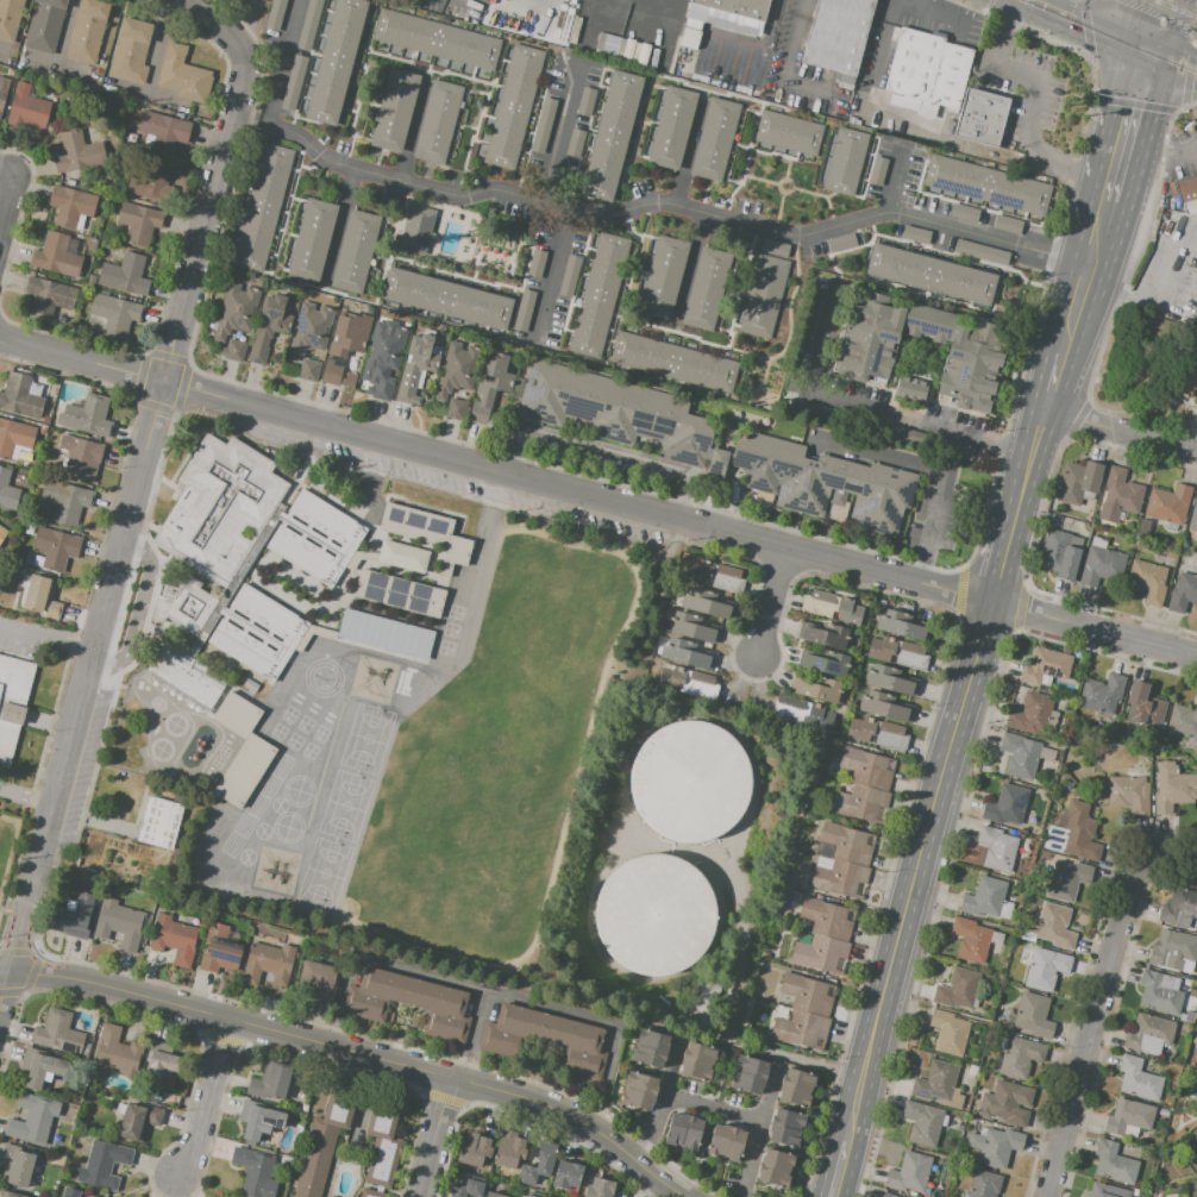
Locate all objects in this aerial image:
railway: (1182, 6)
building: (738, 7)
railway: (1168, 11)
building: (276, 14)
building: (10, 18)
road: (1079, 21)
road: (1138, 21)
building: (311, 24)
traffic signals: (1084, 24)
building: (45, 25)
road: (219, 30)
building: (87, 31)
building: (691, 31)
road: (1177, 31)
building: (836, 36)
road: (878, 38)
building: (434, 39)
road: (757, 45)
building: (628, 49)
building: (130, 50)
building: (637, 51)
road: (1151, 52)
building: (336, 61)
road: (1183, 67)
building: (928, 68)
road: (784, 69)
building: (183, 75)
building: (295, 83)
building: (2, 88)
road: (1038, 94)
building: (587, 102)
road: (1155, 104)
building: (513, 107)
building: (27, 109)
building: (395, 111)
traffic signals: (1153, 113)
building: (980, 118)
road: (1111, 119)
building: (438, 123)
road: (250, 124)
building: (544, 124)
building: (671, 127)
building: (164, 130)
building: (788, 132)
road: (557, 133)
building: (610, 136)
building: (715, 136)
road: (1124, 140)
building: (575, 143)
road: (1193, 146)
road: (1170, 150)
building: (77, 152)
road: (685, 156)
building: (842, 162)
building: (877, 171)
road: (8, 173)
road: (1133, 174)
road: (892, 178)
building: (150, 184)
building: (988, 184)
building: (1187, 190)
building: (70, 206)
building: (263, 206)
road: (8, 208)
building: (964, 213)
road: (600, 215)
building: (138, 221)
building: (1007, 225)
building: (415, 230)
building: (916, 234)
building: (311, 239)
building: (840, 243)
building: (775, 249)
road: (1109, 250)
building: (356, 251)
building: (982, 251)
building: (55, 256)
building: (537, 262)
road: (689, 265)
building: (457, 268)
road: (1071, 269)
building: (928, 271)
building: (125, 274)
road: (552, 274)
building: (568, 276)
building: (664, 277)
building: (706, 288)
building: (602, 290)
building: (49, 296)
building: (764, 296)
building: (445, 299)
road: (832, 305)
building: (524, 309)
building: (112, 318)
building: (252, 318)
building: (811, 322)
building: (309, 330)
building: (351, 334)
building: (233, 350)
road: (1077, 353)
building: (383, 356)
road: (819, 357)
building: (863, 359)
building: (673, 363)
building: (416, 366)
building: (456, 369)
building: (309, 371)
building: (331, 374)
road: (1044, 375)
building: (1187, 376)
building: (349, 383)
building: (490, 387)
building: (909, 390)
building: (20, 399)
building: (1196, 403)
building: (456, 409)
building: (615, 411)
building: (817, 412)
building: (90, 416)
building: (45, 419)
road: (917, 419)
road: (1115, 426)
building: (43, 430)
building: (14, 437)
road: (1028, 440)
building: (929, 441)
building: (81, 457)
building: (820, 481)
building: (317, 482)
building: (1077, 482)
building: (7, 491)
building: (1118, 495)
road: (597, 499)
building: (67, 501)
building: (1168, 503)
building: (220, 507)
road: (1026, 507)
building: (1193, 518)
building: (1143, 525)
road: (125, 533)
building: (427, 533)
road: (928, 533)
building: (2, 534)
building: (317, 538)
road: (1007, 539)
building: (1098, 541)
building: (1168, 544)
building: (56, 547)
building: (402, 556)
building: (1059, 556)
building: (1101, 566)
building: (717, 576)
building: (1147, 581)
building: (399, 594)
building: (1183, 594)
building: (40, 596)
road: (776, 602)
building: (708, 603)
building: (183, 606)
building: (832, 607)
road: (139, 614)
building: (902, 625)
building: (694, 626)
building: (257, 633)
building: (825, 634)
building: (384, 635)
road: (48, 638)
park: (510, 648)
building: (897, 652)
building: (684, 653)
building: (825, 662)
building: (1045, 666)
park: (565, 668)
building: (681, 673)
building: (695, 676)
building: (182, 678)
building: (890, 679)
building: (250, 685)
building: (817, 689)
building: (1101, 692)
building: (791, 701)
building: (12, 702)
building: (1143, 706)
building: (885, 707)
building: (1030, 714)
building: (819, 717)
building: (1183, 721)
building: (879, 732)
track: (174, 734)
park: (366, 737)
building: (841, 737)
track: (183, 742)
building: (242, 751)
building: (1019, 756)
building: (866, 767)
park: (437, 782)
building: (690, 782)
building: (1172, 788)
building: (1129, 794)
road: (26, 797)
park: (489, 803)
building: (860, 803)
park: (345, 804)
building: (1005, 806)
building: (159, 823)
building: (1074, 833)
building: (844, 844)
building: (996, 848)
road: (1172, 863)
park: (324, 872)
road: (917, 873)
building: (839, 877)
building: (1066, 879)
building: (984, 897)
building: (1179, 909)
building: (1004, 910)
building: (653, 916)
building: (74, 917)
building: (827, 919)
building: (118, 923)
building: (1049, 927)
building: (996, 938)
building: (803, 939)
building: (174, 940)
building: (971, 940)
building: (1172, 950)
building: (219, 951)
building: (821, 954)
building: (765, 955)
building: (269, 964)
building: (1046, 969)
road: (421, 973)
building: (320, 982)
building: (957, 989)
building: (1159, 991)
building: (807, 994)
building: (409, 1002)
building: (1033, 1015)
road: (597, 1023)
road: (1096, 1026)
building: (806, 1030)
building: (57, 1033)
building: (948, 1033)
building: (1148, 1034)
building: (545, 1039)
building: (999, 1042)
building: (650, 1047)
building: (117, 1052)
road: (353, 1053)
building: (162, 1057)
building: (1020, 1057)
building: (696, 1061)
building: (40, 1067)
building: (972, 1070)
building: (164, 1074)
building: (748, 1074)
building: (1138, 1079)
building: (271, 1080)
building: (939, 1084)
building: (795, 1088)
building: (182, 1090)
building: (639, 1090)
building: (155, 1098)
road: (207, 1098)
building: (1008, 1104)
road: (660, 1107)
building: (119, 1108)
road: (713, 1109)
building: (1162, 1113)
building: (1128, 1116)
building: (32, 1120)
building: (258, 1120)
building: (138, 1121)
building: (923, 1123)
road: (759, 1128)
building: (784, 1128)
building: (684, 1130)
building: (322, 1139)
road: (435, 1139)
building: (725, 1141)
building: (249, 1142)
building: (382, 1142)
building: (995, 1146)
building: (509, 1149)
building: (474, 1151)
building: (59, 1158)
building: (1114, 1162)
building: (17, 1164)
building: (538, 1164)
building: (104, 1165)
building: (773, 1168)
road: (834, 1171)
building: (255, 1172)
building: (909, 1172)
building: (566, 1174)
building: (984, 1184)
building: (469, 1187)
building: (600, 1187)
building: (380, 1189)
building: (1107, 1191)
building: (70, 1192)
building: (371, 1193)
building: (1139, 1193)
building: (8, 1195)
building: (493, 1195)
building: (528, 1196)
building: (889, 1196)

